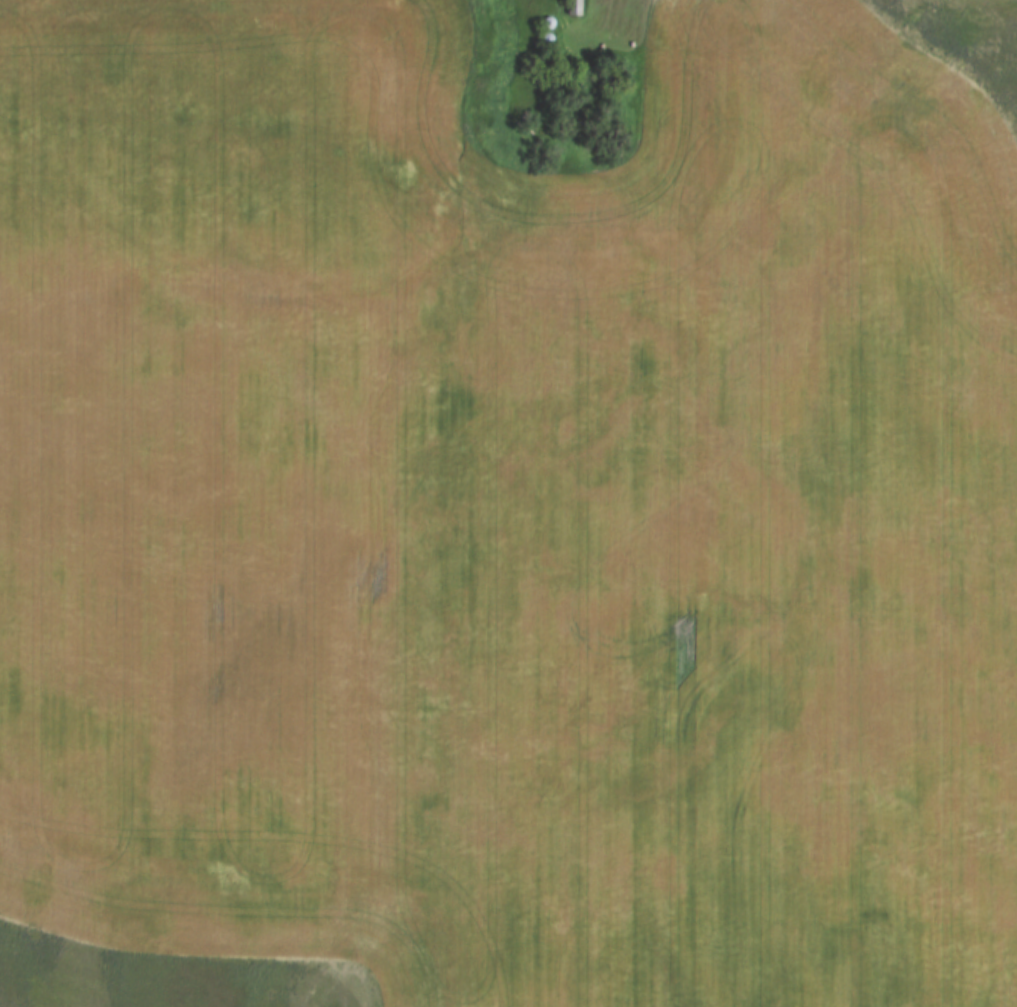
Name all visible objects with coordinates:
building: (573, 7)

